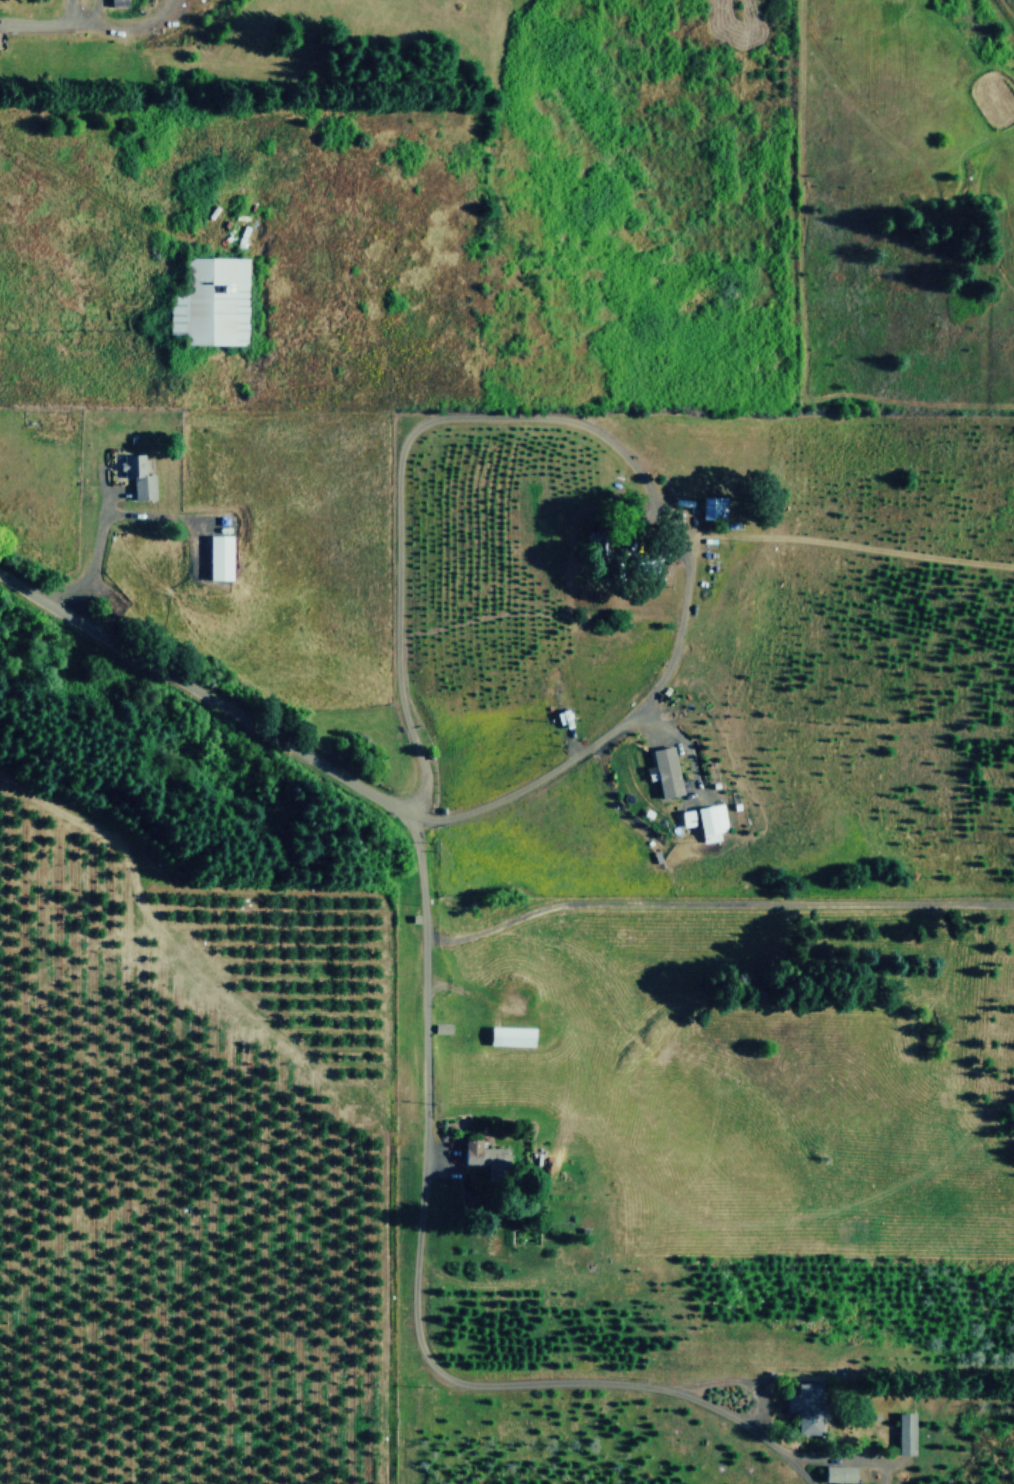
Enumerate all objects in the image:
road: (67, 11)
road: (124, 25)
building: (214, 301)
crop: (556, 401)
road: (595, 432)
building: (140, 476)
building: (714, 507)
building: (219, 557)
building: (666, 771)
building: (688, 817)
building: (711, 821)
road: (715, 904)
building: (511, 1035)
road: (425, 1043)
building: (484, 1156)
building: (807, 1407)
building: (906, 1432)
building: (839, 1473)

